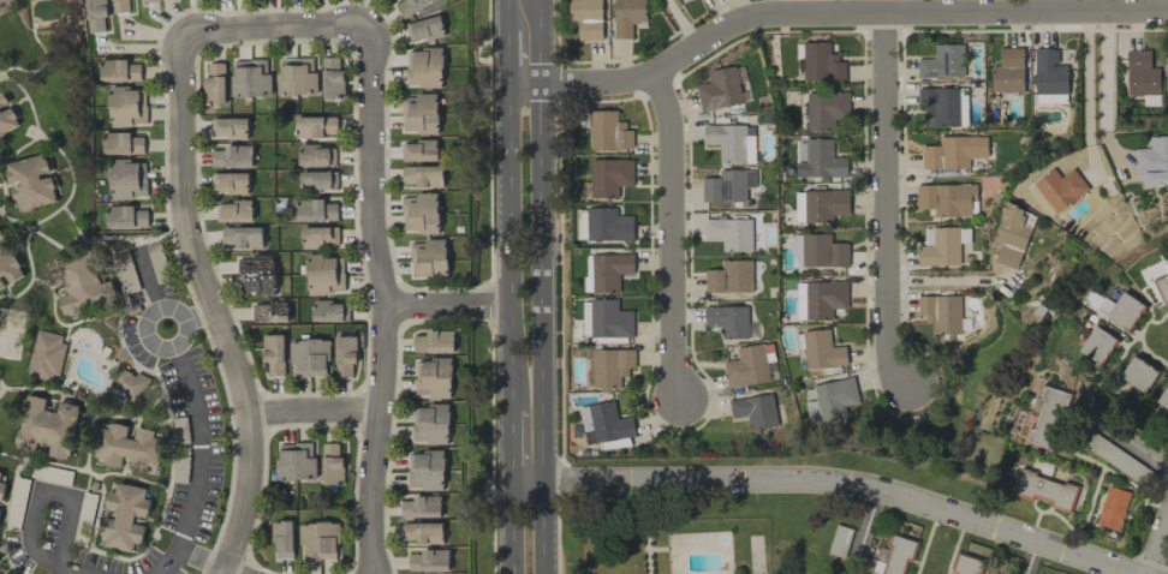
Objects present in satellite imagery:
building: (145, 0)
building: (119, 6)
building: (415, 7)
building: (95, 14)
road: (507, 14)
road: (829, 14)
building: (627, 16)
building: (586, 18)
road: (279, 23)
road: (684, 24)
road: (540, 42)
road: (507, 58)
building: (942, 61)
rooftop solar panel: (947, 61)
building: (821, 62)
building: (424, 67)
building: (119, 70)
building: (1007, 71)
building: (1049, 72)
building: (1140, 73)
building: (296, 76)
building: (1166, 76)
building: (250, 78)
building: (330, 78)
building: (214, 82)
building: (720, 89)
road: (1089, 92)
road: (1107, 94)
building: (127, 106)
building: (943, 106)
building: (826, 109)
building: (419, 113)
building: (6, 115)
building: (315, 126)
building: (228, 127)
building: (608, 131)
building: (123, 143)
building: (731, 143)
building: (419, 150)
building: (953, 151)
building: (232, 156)
building: (316, 156)
building: (821, 161)
building: (1152, 161)
building: (422, 175)
building: (609, 177)
building: (127, 179)
building: (317, 180)
building: (30, 183)
building: (230, 183)
building: (727, 186)
building: (1060, 189)
road: (886, 203)
building: (824, 204)
building: (798, 207)
building: (315, 209)
building: (233, 211)
building: (421, 213)
building: (125, 217)
building: (608, 225)
building: (729, 233)
road: (672, 234)
building: (1011, 234)
building: (243, 237)
building: (318, 237)
road: (507, 246)
building: (940, 247)
building: (822, 251)
building: (429, 258)
building: (7, 264)
building: (609, 270)
building: (256, 274)
building: (324, 274)
building: (728, 276)
road: (149, 279)
road: (947, 281)
road: (543, 282)
building: (83, 283)
building: (1162, 285)
building: (820, 299)
road: (387, 301)
road: (214, 304)
road: (448, 309)
building: (1121, 310)
building: (269, 311)
building: (329, 311)
building: (941, 313)
road: (201, 315)
building: (609, 319)
building: (728, 321)
road: (144, 327)
building: (434, 342)
building: (1097, 345)
building: (822, 349)
building: (274, 353)
building: (46, 354)
building: (345, 354)
building: (309, 358)
building: (769, 361)
building: (610, 366)
building: (746, 366)
building: (1138, 373)
building: (433, 377)
building: (129, 385)
building: (834, 397)
building: (1163, 397)
building: (753, 409)
road: (315, 414)
building: (1048, 417)
building: (603, 423)
building: (430, 424)
building: (46, 426)
road: (1133, 438)
road: (511, 444)
building: (129, 447)
building: (294, 461)
building: (330, 462)
road: (201, 465)
building: (425, 470)
building: (0, 473)
road: (829, 485)
building: (1044, 489)
building: (1, 490)
road: (62, 494)
building: (421, 507)
building: (0, 508)
building: (1113, 508)
building: (124, 516)
road: (868, 525)
road: (513, 526)
road: (547, 527)
building: (423, 532)
building: (282, 539)
building: (320, 540)
road: (1160, 545)
building: (895, 556)
road: (1030, 557)
building: (428, 561)
road: (202, 562)
road: (52, 564)
building: (965, 564)
building: (4, 573)
road: (231, 573)

